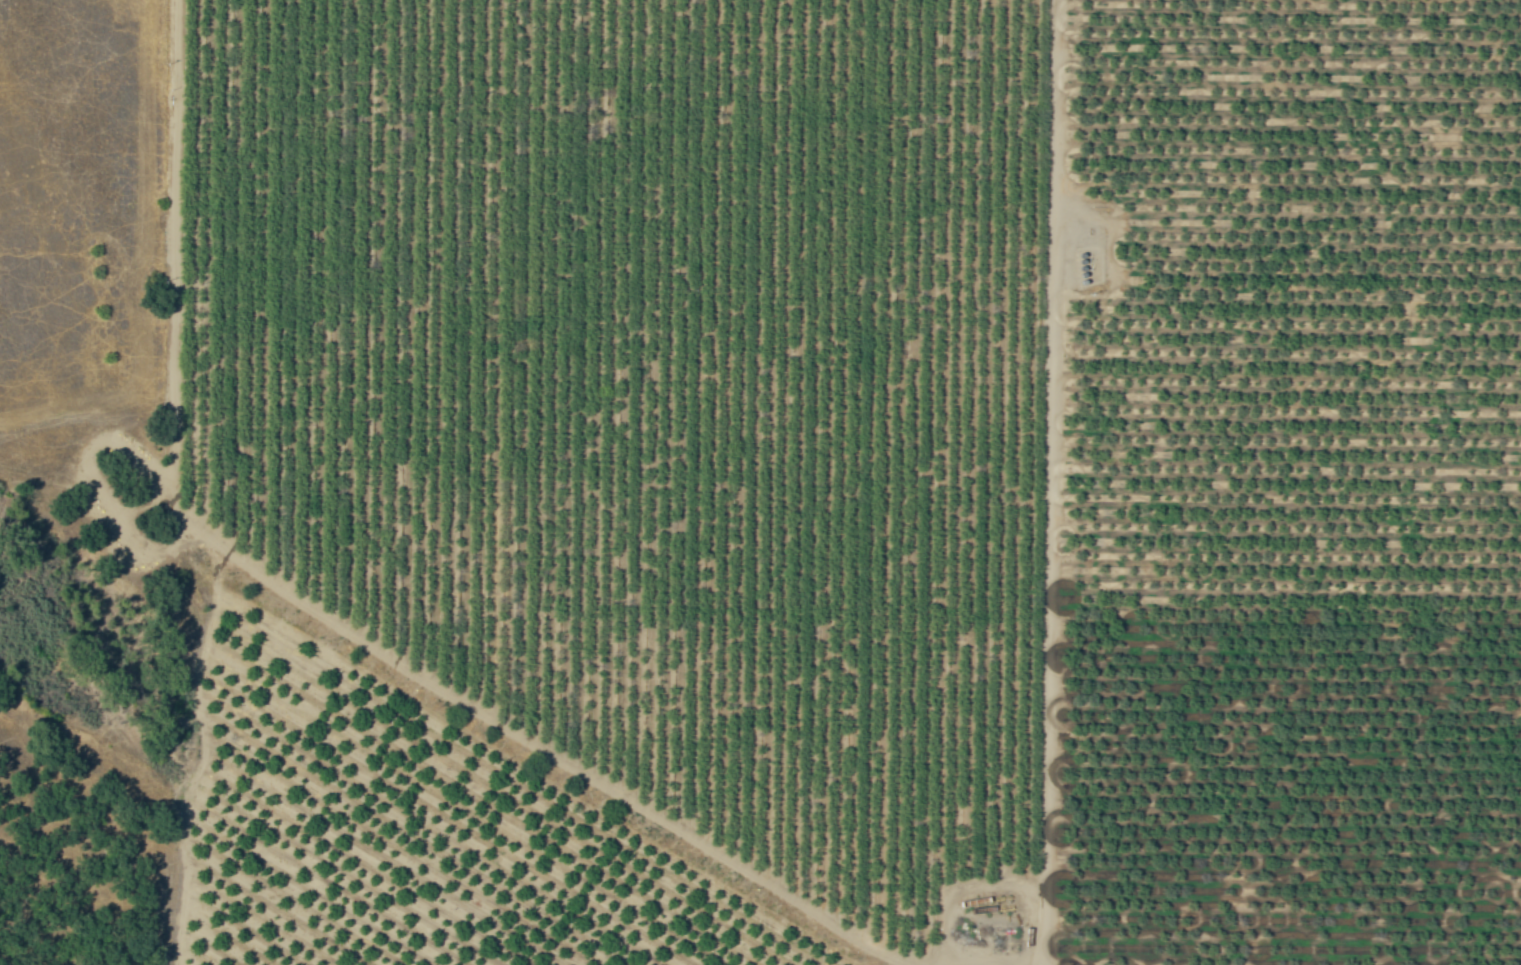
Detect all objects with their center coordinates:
road: (1051, 482)

